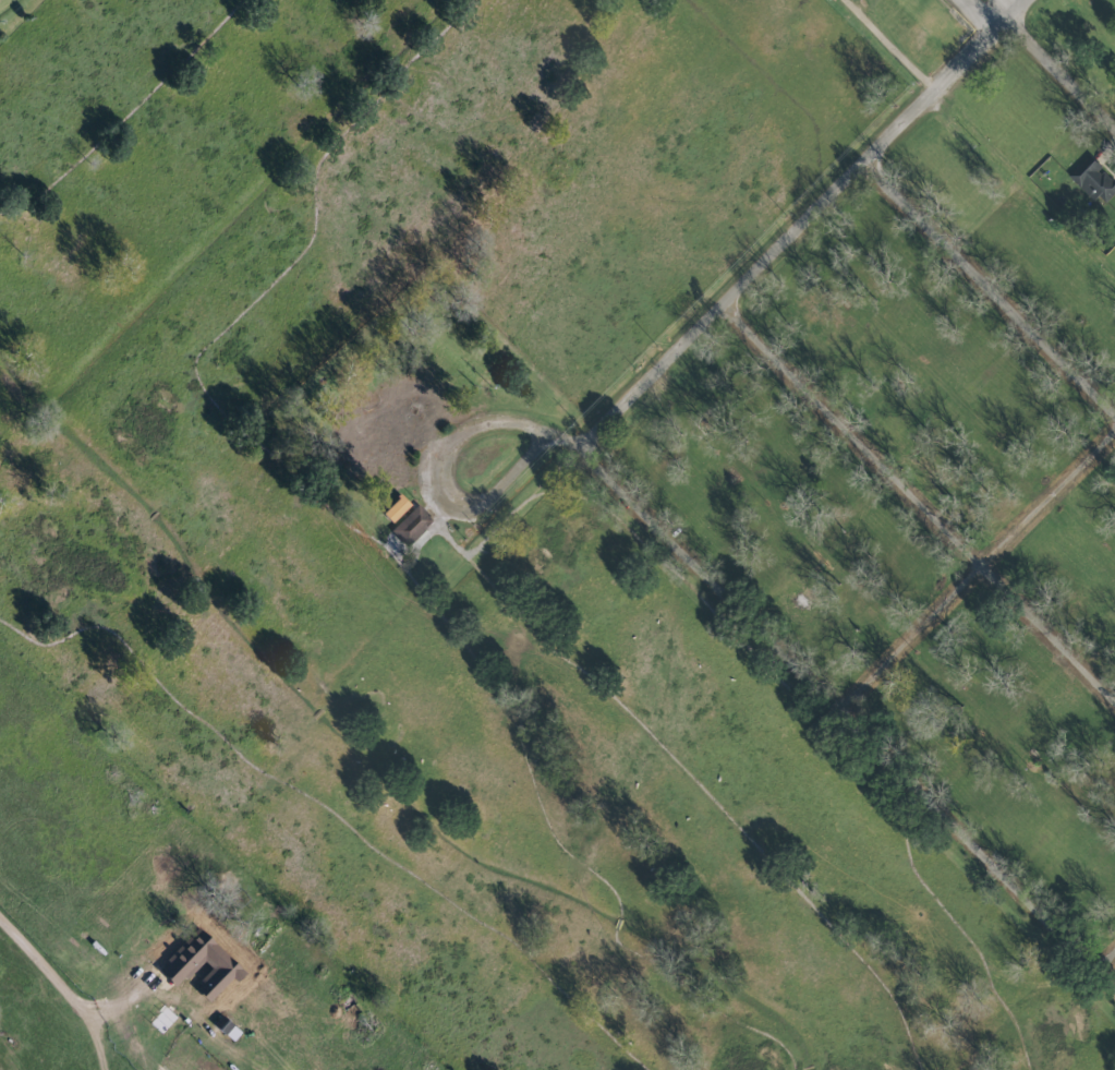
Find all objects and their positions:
road: (1002, 9)
road: (984, 10)
road: (885, 46)
road: (1061, 71)
building: (1092, 180)
road: (801, 225)
road: (990, 288)
building: (381, 429)
road: (440, 468)
road: (919, 503)
building: (393, 508)
park: (447, 517)
building: (409, 525)
road: (977, 567)
road: (848, 716)
road: (1104, 955)
road: (61, 989)
building: (223, 1027)

